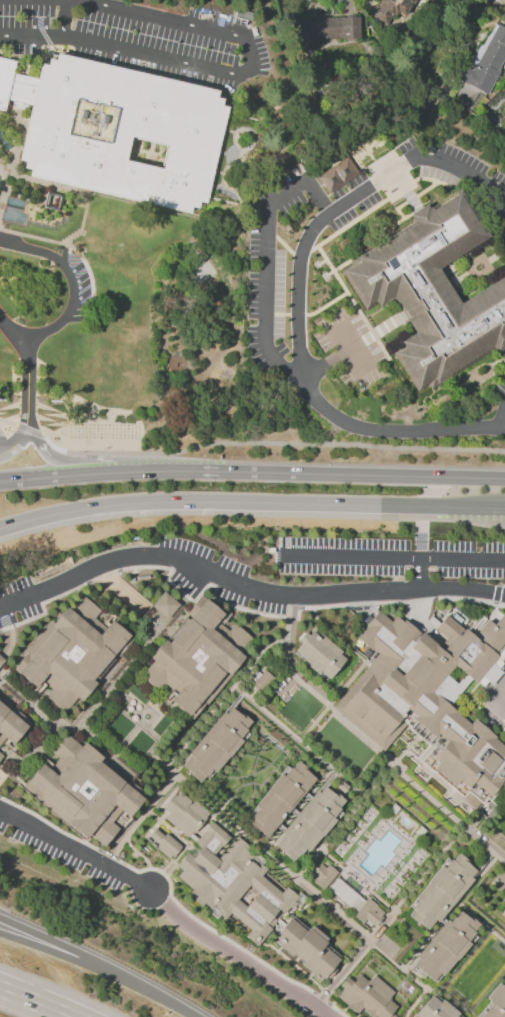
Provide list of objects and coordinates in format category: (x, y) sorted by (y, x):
building: (391, 9)
road: (65, 19)
building: (322, 32)
building: (486, 62)
road: (230, 77)
building: (118, 132)
building: (337, 174)
parking lot: (335, 222)
road: (267, 269)
road: (72, 284)
road: (296, 290)
building: (434, 292)
road: (14, 336)
parking lot: (352, 352)
road: (330, 363)
parking lot: (501, 388)
road: (28, 393)
road: (503, 422)
road: (504, 431)
road: (41, 444)
road: (17, 445)
road: (111, 459)
road: (110, 473)
road: (363, 476)
road: (251, 502)
road: (390, 558)
road: (419, 575)
road: (245, 587)
building: (164, 605)
building: (447, 628)
building: (493, 633)
building: (71, 653)
building: (319, 655)
building: (197, 659)
building: (1, 660)
building: (262, 681)
road: (498, 696)
building: (423, 699)
building: (9, 724)
building: (217, 744)
road: (368, 744)
road: (182, 746)
building: (1, 756)
building: (82, 791)
building: (279, 798)
building: (184, 813)
building: (504, 819)
building: (309, 824)
building: (212, 838)
building: (164, 843)
road: (77, 851)
building: (324, 875)
building: (441, 891)
building: (345, 895)
building: (503, 904)
road: (333, 911)
building: (369, 913)
building: (503, 913)
road: (60, 945)
building: (307, 947)
building: (445, 947)
road: (59, 954)
road: (236, 957)
road: (351, 959)
road: (154, 996)
building: (367, 996)
road: (35, 1002)
building: (495, 1003)
building: (436, 1009)

